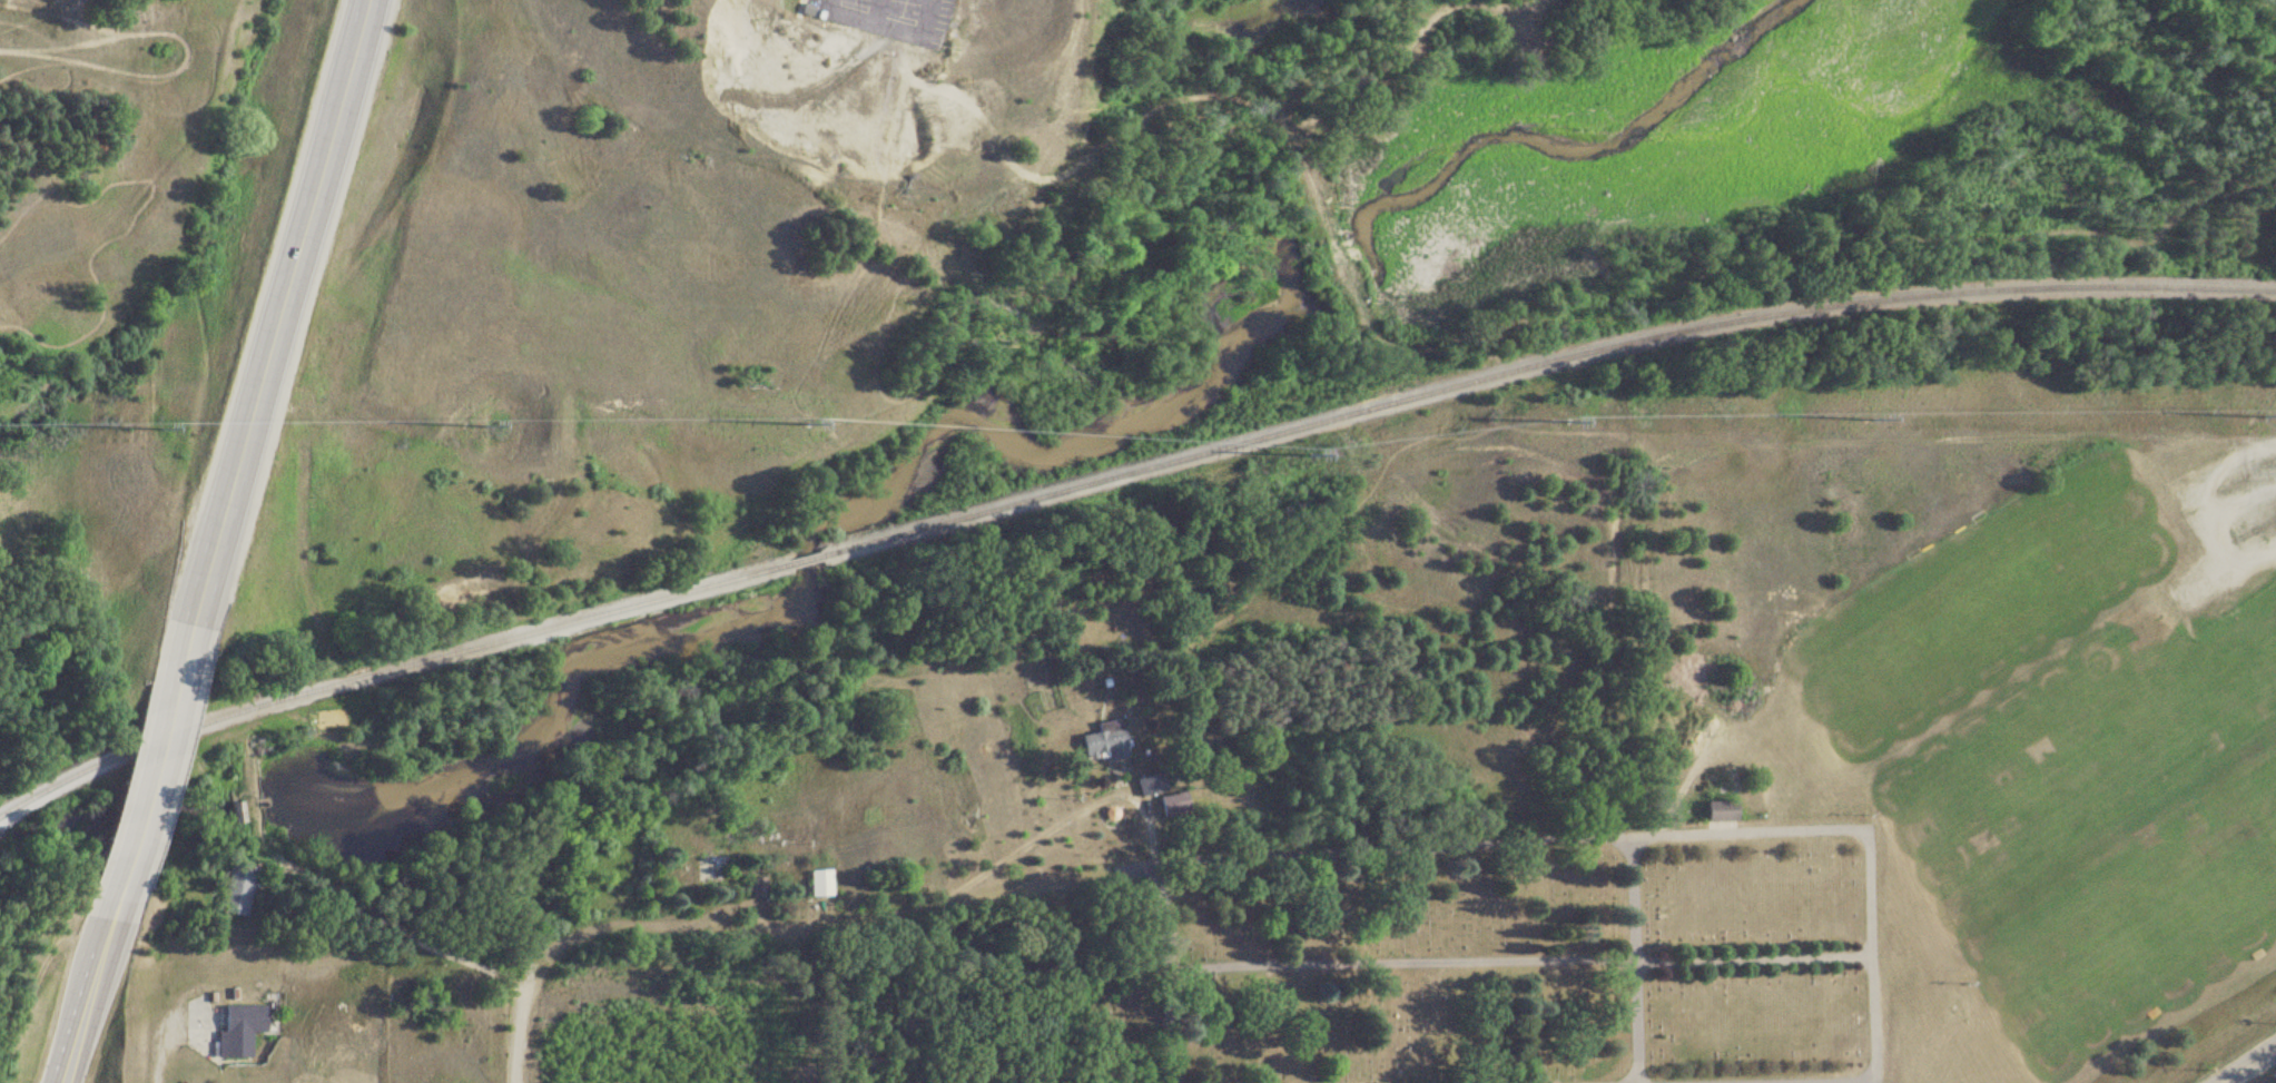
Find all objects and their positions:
road: (1514, 10)
road: (879, 11)
parking lot: (888, 17)
road: (889, 26)
road: (1320, 81)
road: (277, 314)
road: (1042, 343)
railway: (1538, 364)
power tower: (2257, 417)
power tower: (1869, 421)
power tower: (807, 423)
power tower: (1563, 423)
power tower: (480, 426)
power tower: (156, 432)
power tower: (1304, 453)
road: (2226, 471)
parking lot: (2220, 530)
railway: (801, 560)
railway: (386, 670)
building: (1103, 745)
park: (2060, 745)
road: (151, 772)
building: (1171, 805)
building: (1718, 811)
road: (1043, 829)
road: (1702, 831)
building: (705, 868)
building: (817, 884)
road: (392, 918)
road: (849, 922)
road: (1628, 958)
road: (1515, 959)
park: (1405, 961)
road: (1166, 972)
road: (85, 1000)
road: (512, 1012)
building: (237, 1030)
road: (164, 1042)
road: (2246, 1063)
road: (1871, 1081)

